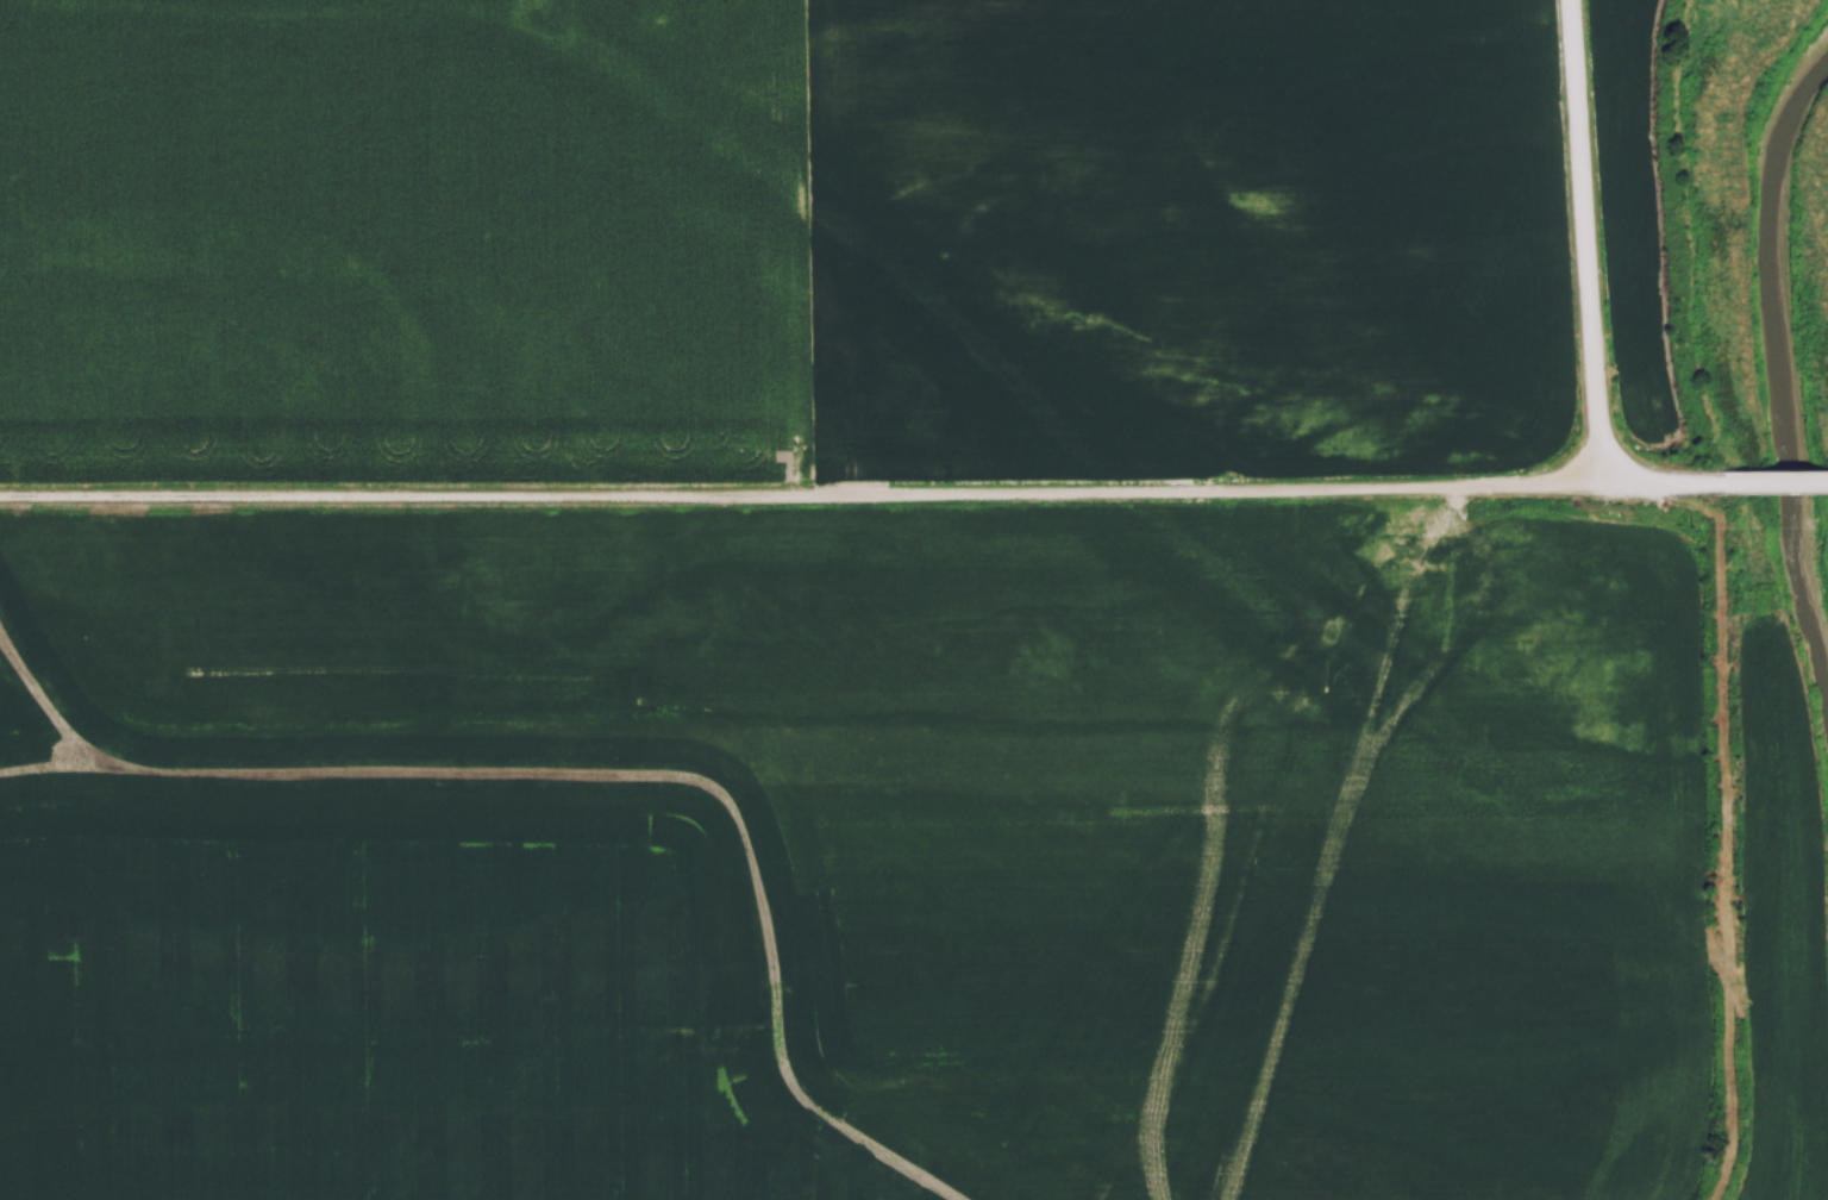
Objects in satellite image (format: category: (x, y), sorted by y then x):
road: (1588, 237)
river: (1788, 370)
road: (1670, 479)
road: (805, 483)
road: (1779, 483)

